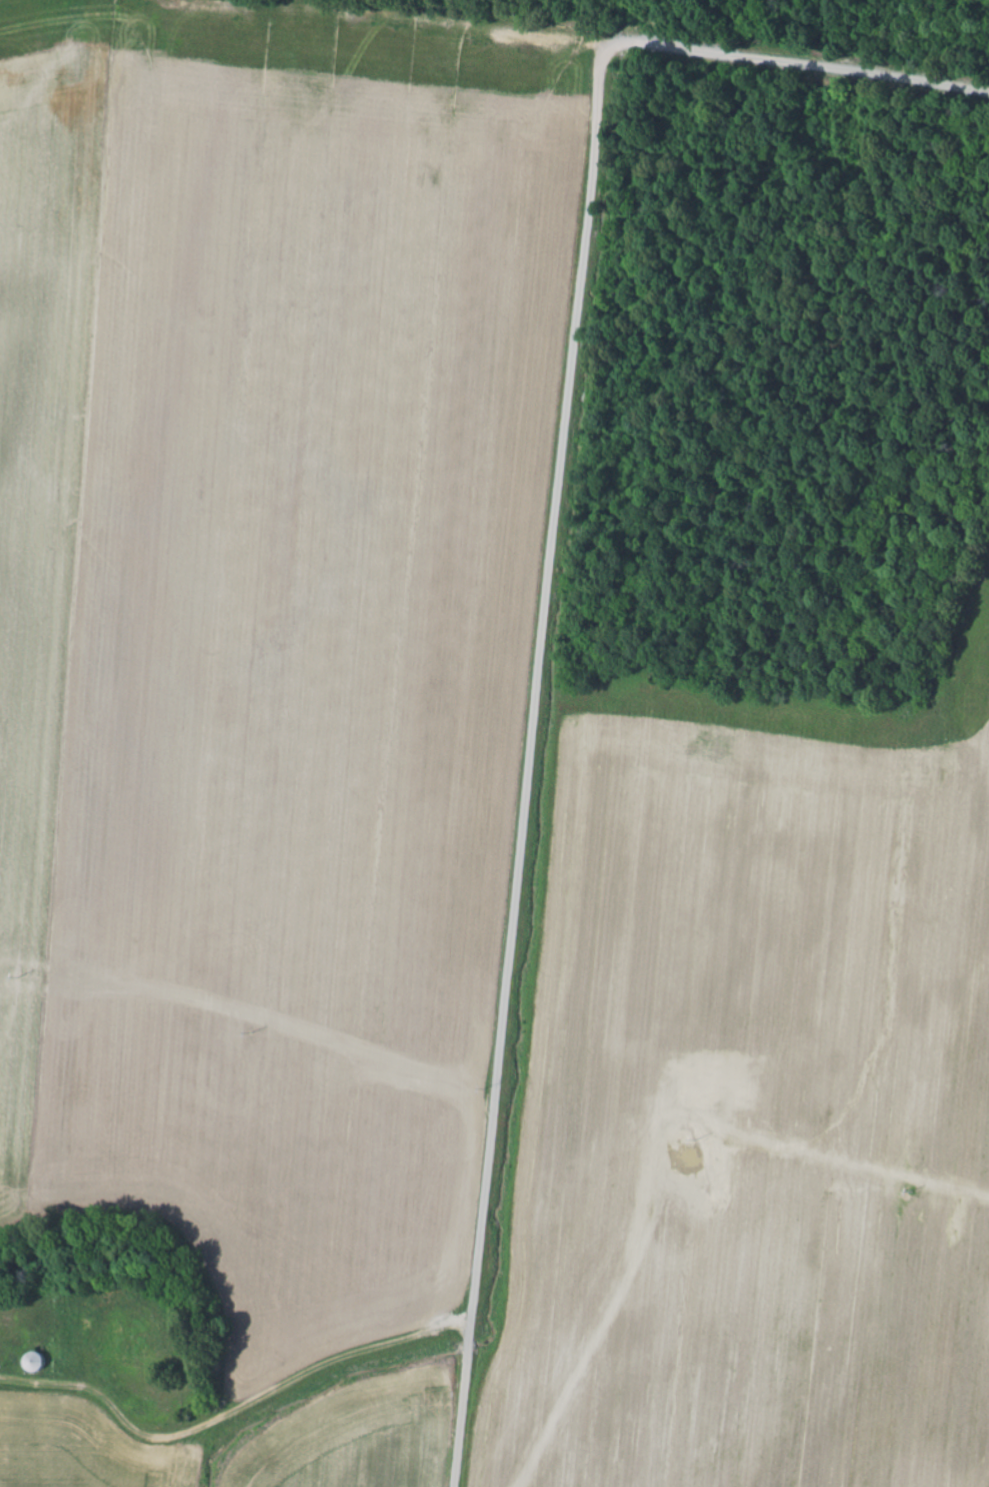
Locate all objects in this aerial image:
road: (520, 24)
road: (797, 64)
road: (528, 767)
road: (239, 1412)

